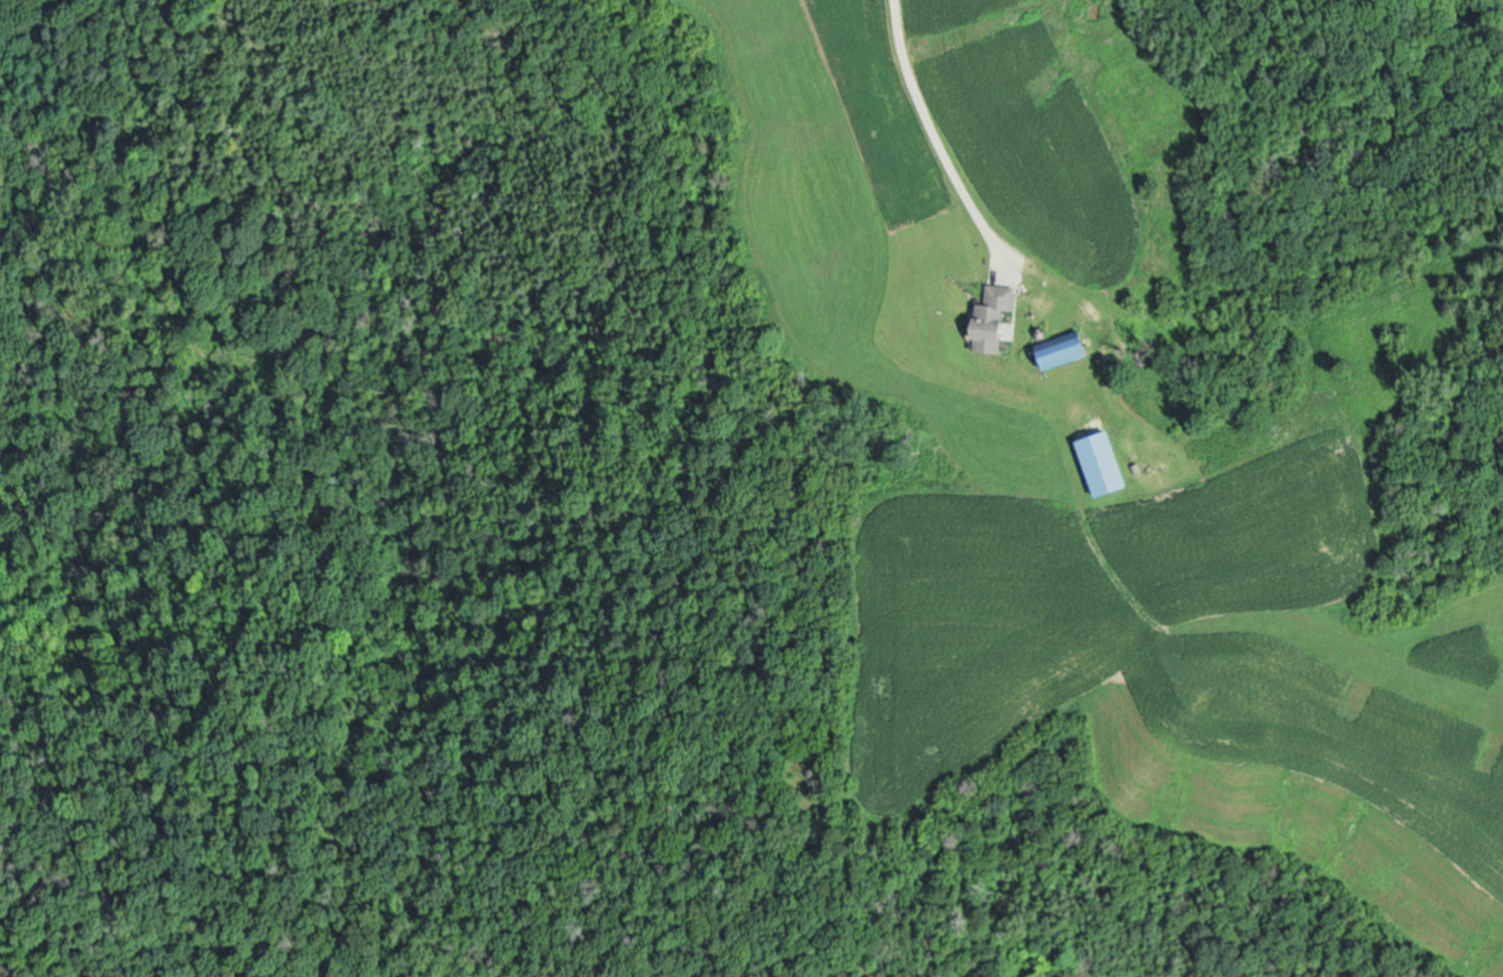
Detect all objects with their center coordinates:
road: (934, 127)
building: (997, 313)
building: (1067, 348)
building: (1105, 463)

